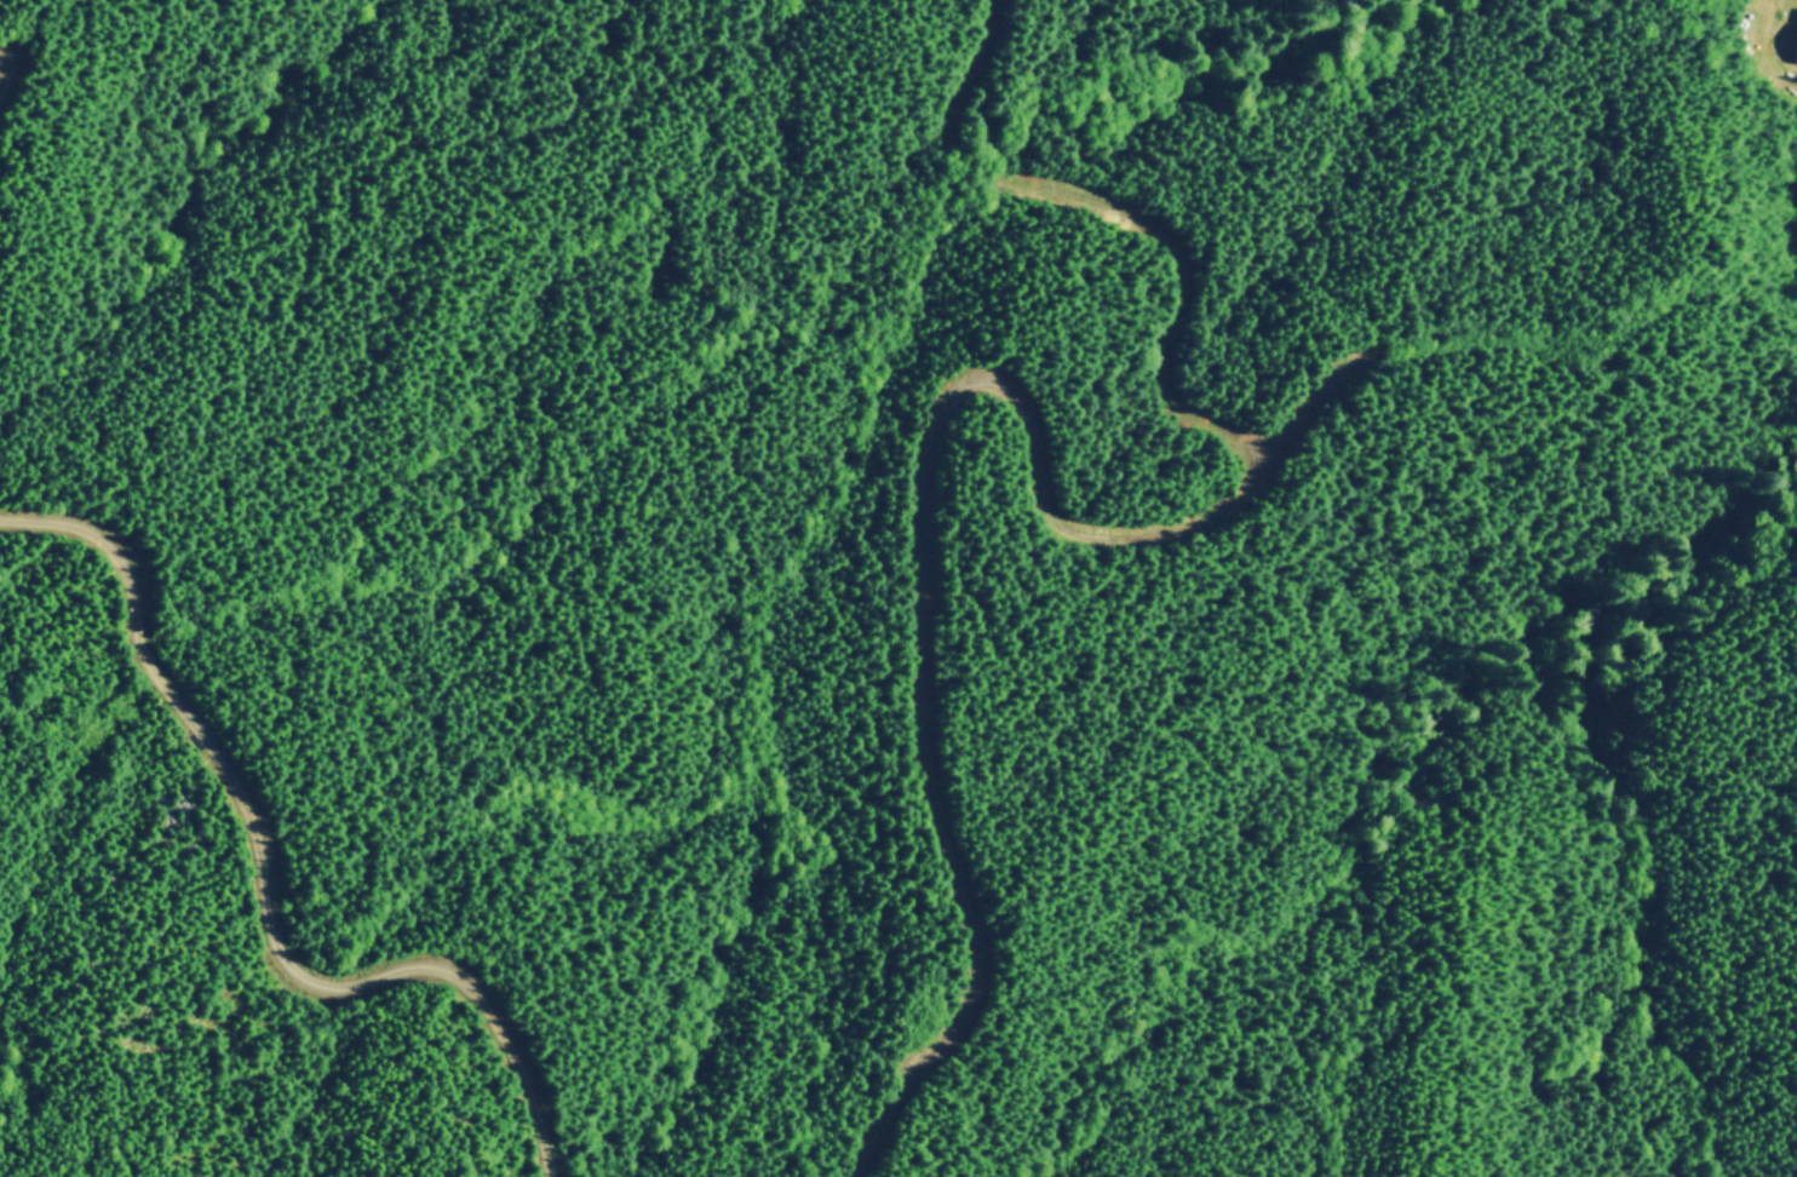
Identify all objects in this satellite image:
building: (1795, 47)
road: (475, 92)

